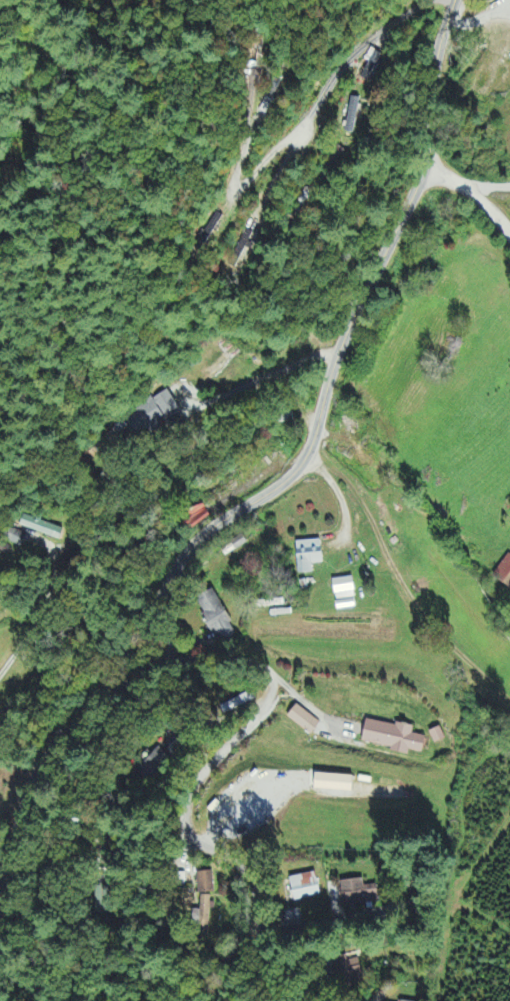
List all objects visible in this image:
building: (242, 250)
road: (251, 265)
building: (151, 414)
road: (260, 489)
building: (42, 529)
building: (309, 557)
building: (504, 574)
building: (344, 590)
road: (397, 595)
building: (215, 617)
road: (337, 696)
building: (304, 721)
building: (438, 735)
building: (393, 737)
building: (153, 767)
building: (335, 783)
building: (205, 883)
building: (306, 887)
building: (358, 893)
building: (101, 902)
road: (337, 959)
building: (347, 968)
road: (70, 971)

